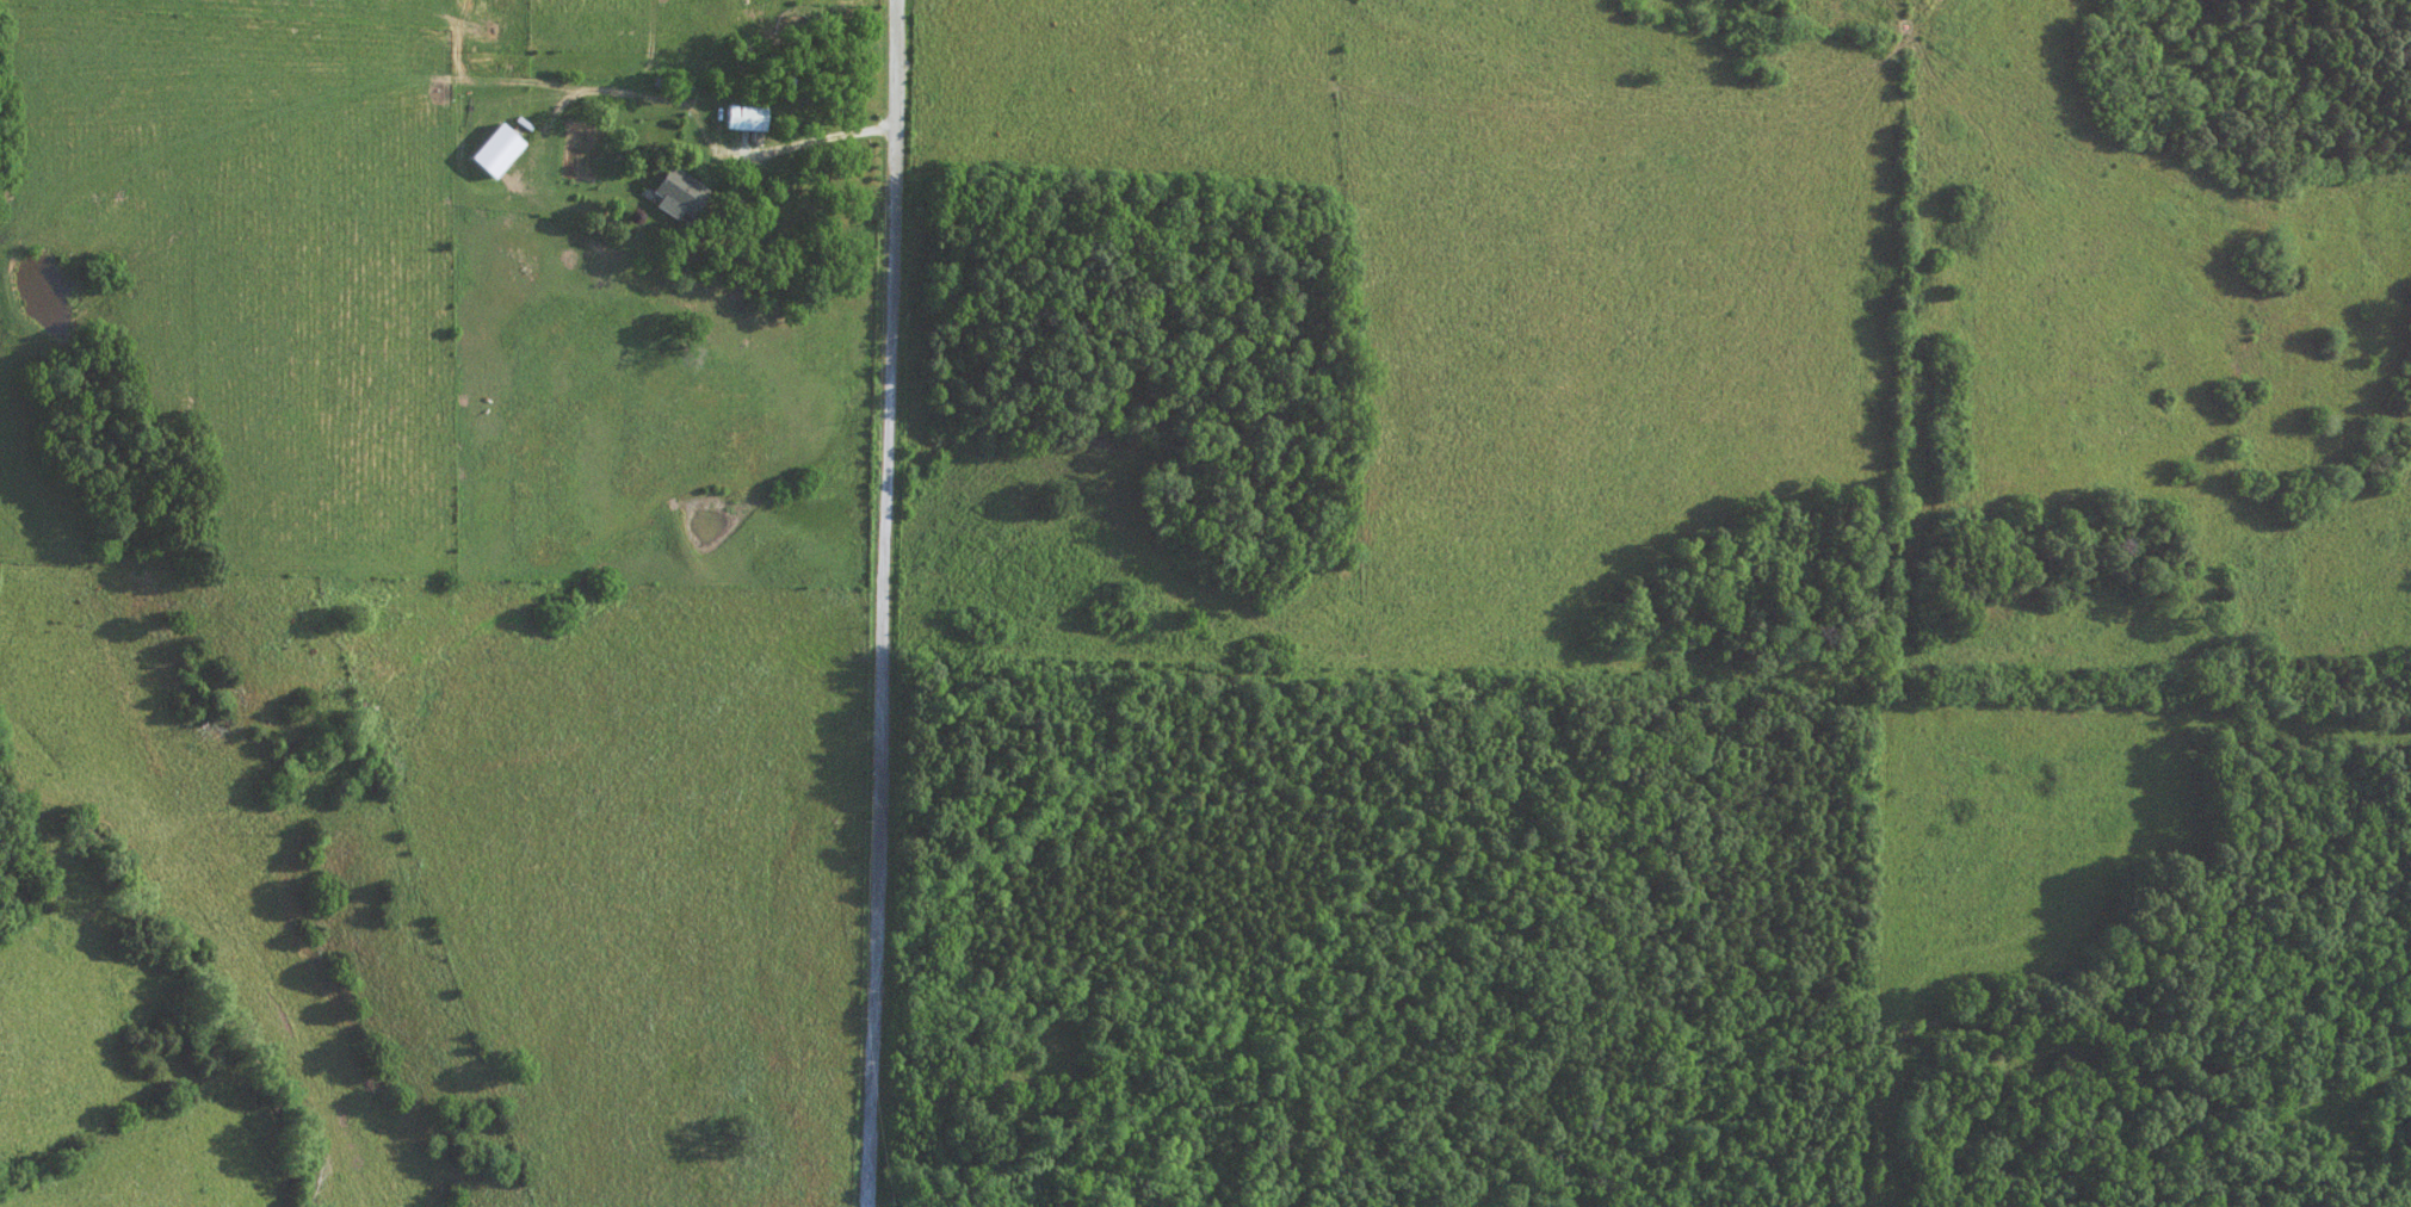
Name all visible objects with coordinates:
building: (748, 117)
road: (795, 153)
building: (682, 190)
road: (883, 602)

